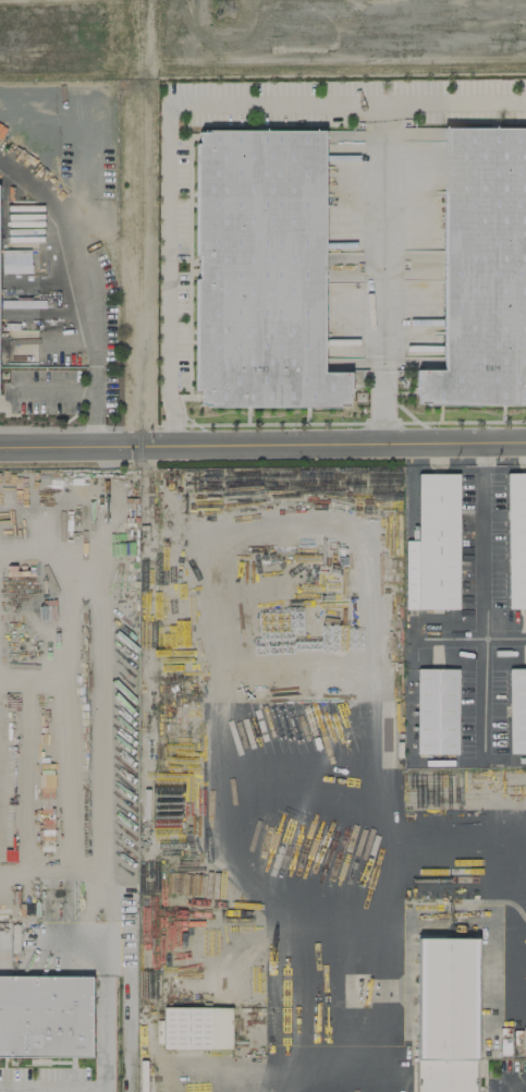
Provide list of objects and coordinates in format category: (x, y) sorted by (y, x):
power tower: (235, 8)
road: (451, 99)
road: (166, 173)
railway: (140, 232)
road: (377, 234)
building: (14, 257)
building: (260, 269)
building: (481, 271)
road: (73, 293)
road: (378, 407)
road: (262, 444)
building: (517, 539)
building: (440, 541)
road: (481, 596)
road: (503, 638)
building: (439, 712)
building: (518, 712)
road: (338, 920)
building: (445, 1015)
building: (45, 1016)
building: (195, 1027)
road: (58, 1082)
road: (513, 1083)

